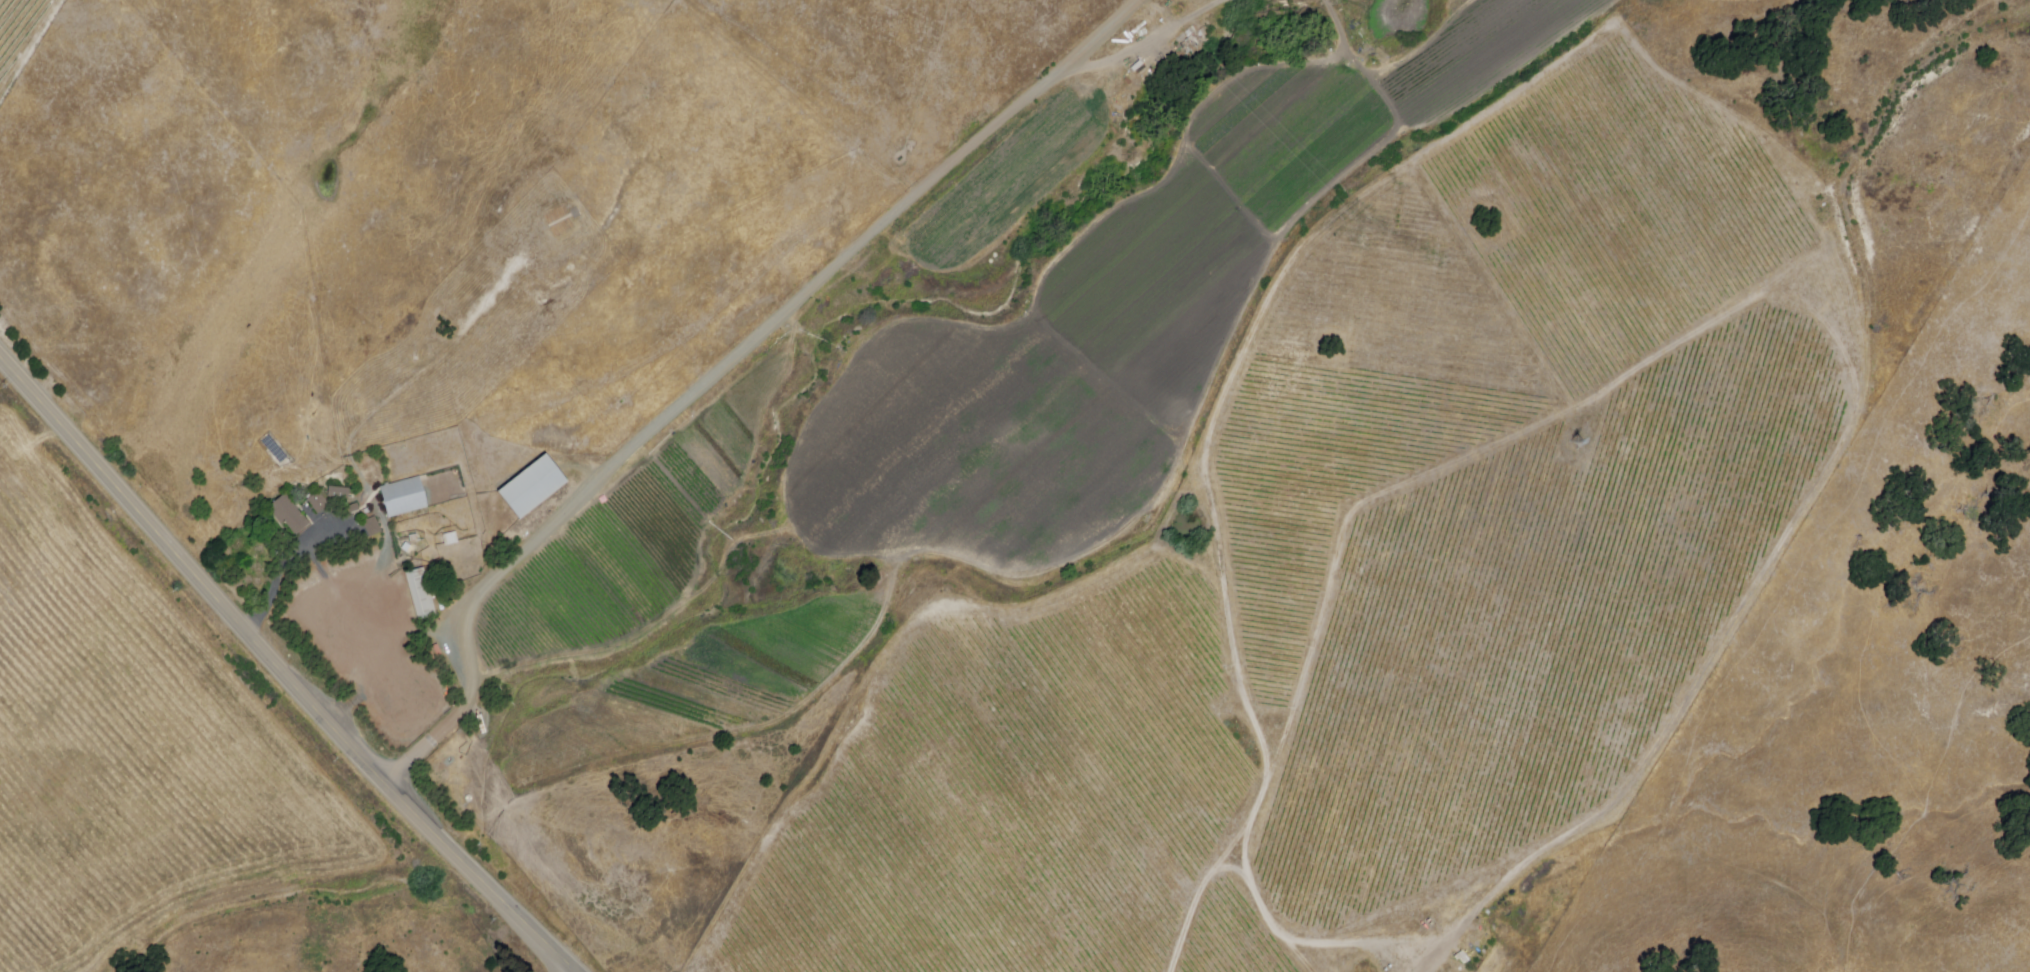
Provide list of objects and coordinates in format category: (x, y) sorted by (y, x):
crop: (1478, 50)
building: (1144, 67)
crop: (1005, 180)
crop: (1075, 354)
road: (714, 369)
power tower: (1580, 442)
building: (533, 486)
building: (404, 497)
building: (319, 503)
building: (291, 515)
building: (370, 528)
crop: (636, 533)
building: (421, 594)
road: (282, 671)
crop: (701, 687)
crop: (128, 749)
road: (573, 971)

